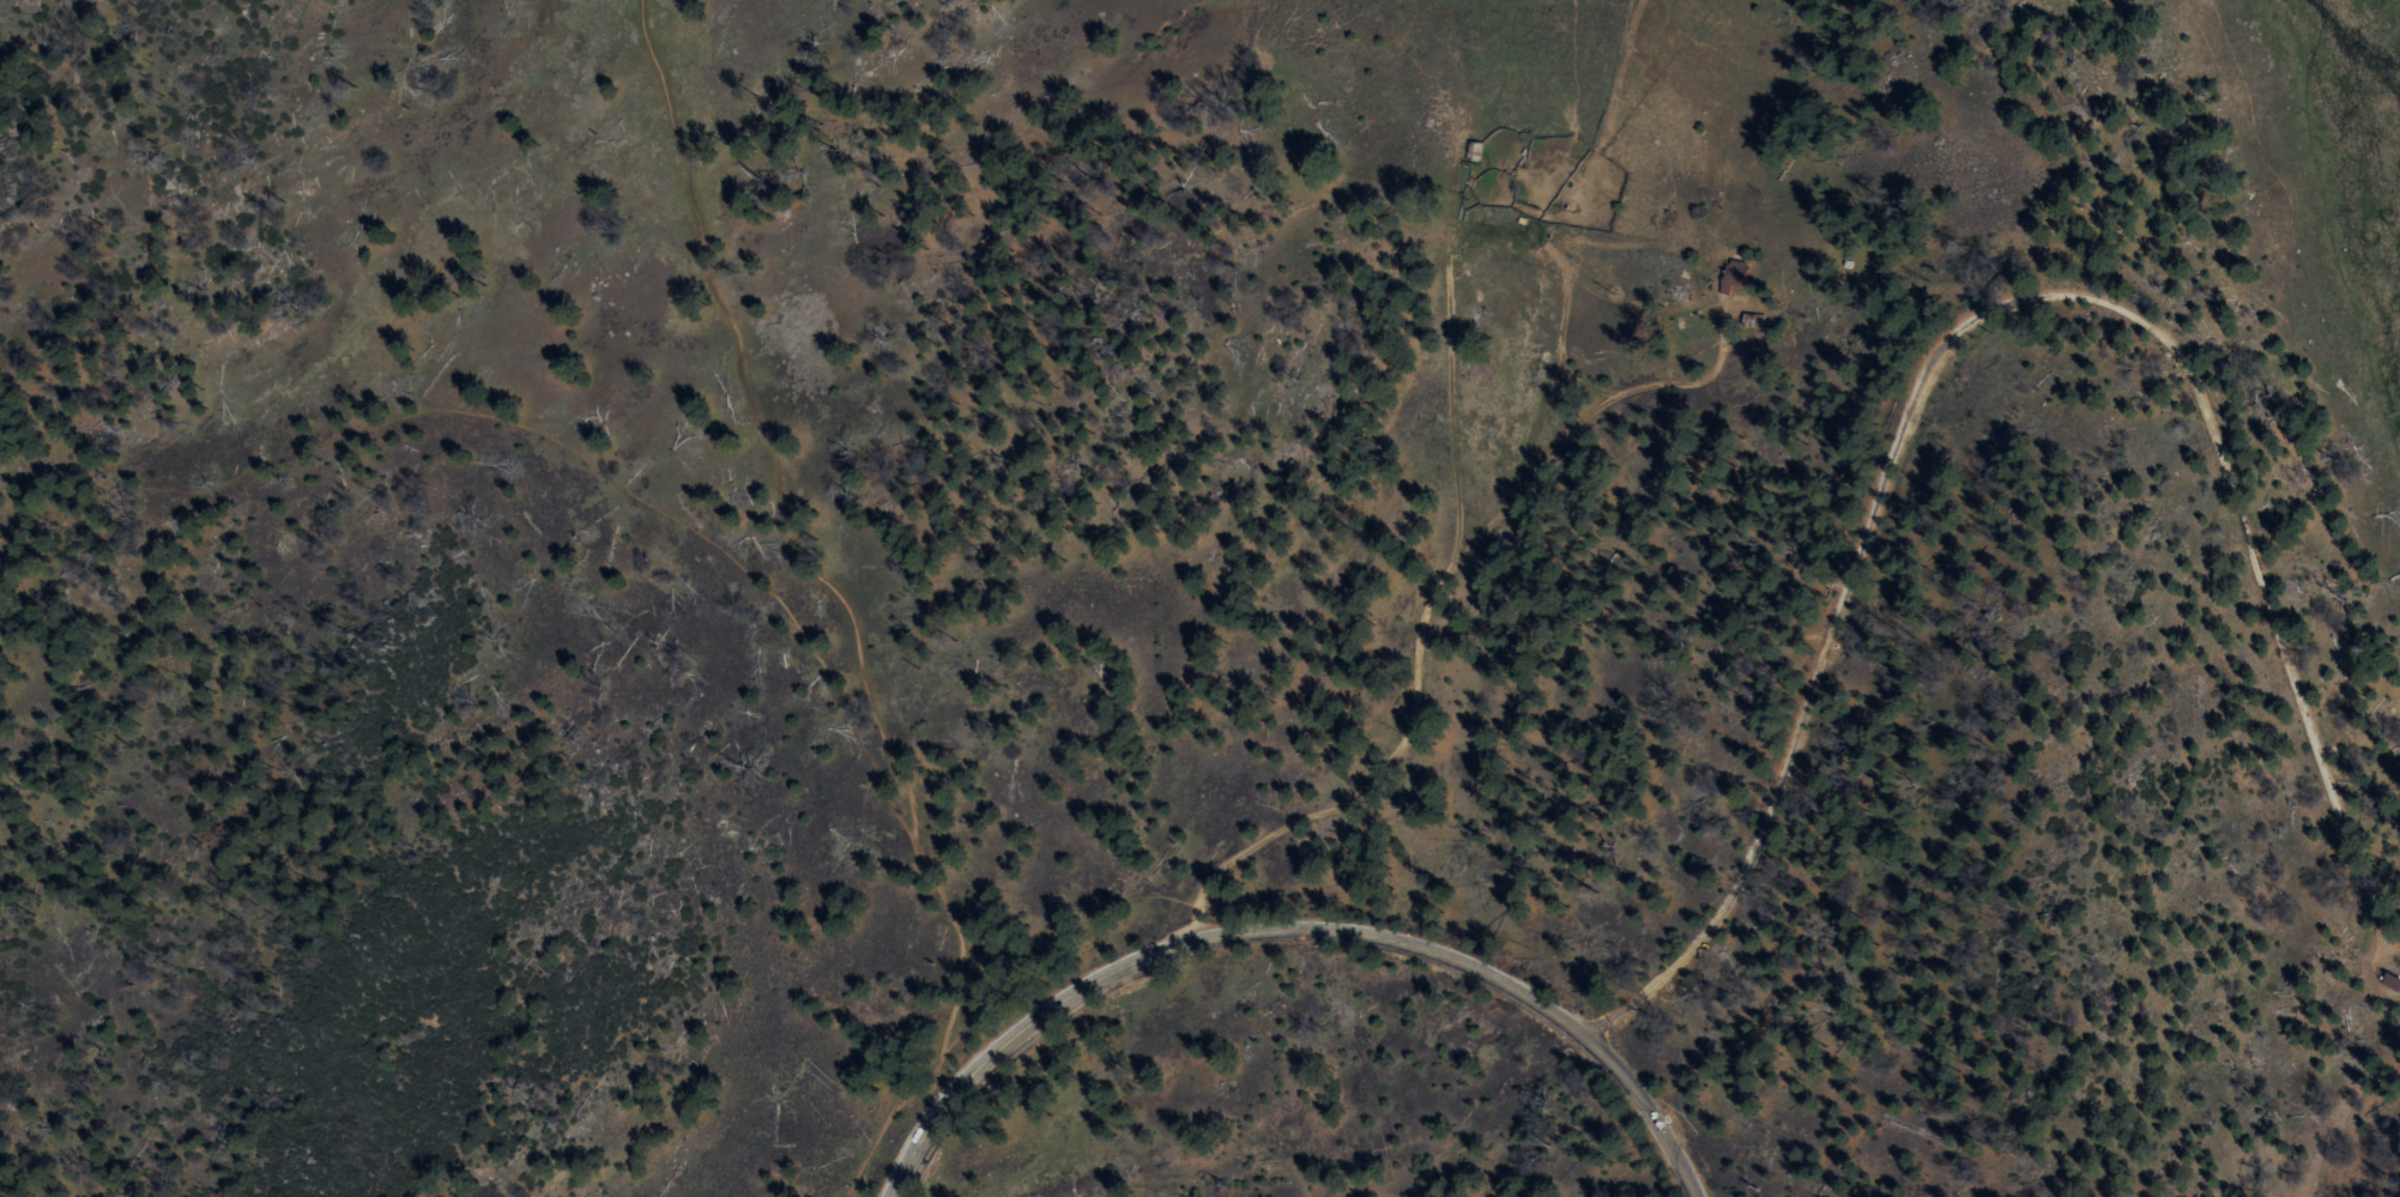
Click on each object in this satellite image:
road: (1415, 226)
road: (2037, 297)
road: (520, 431)
road: (840, 599)
road: (1416, 618)
road: (1294, 885)
road: (1287, 933)
road: (1628, 1004)
parking lot: (862, 1196)

